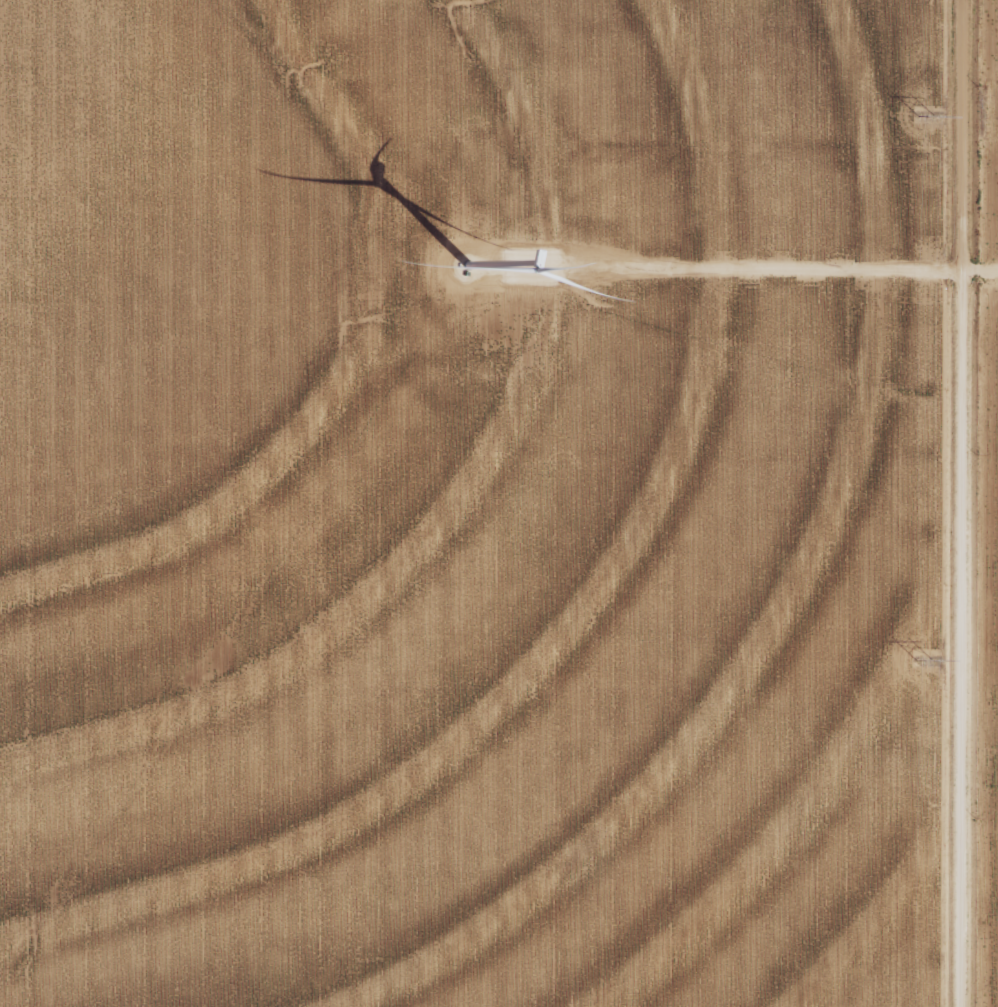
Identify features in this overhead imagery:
power tower: (928, 115)
wind turbine: (462, 266)
road: (936, 503)
power tower: (928, 659)

